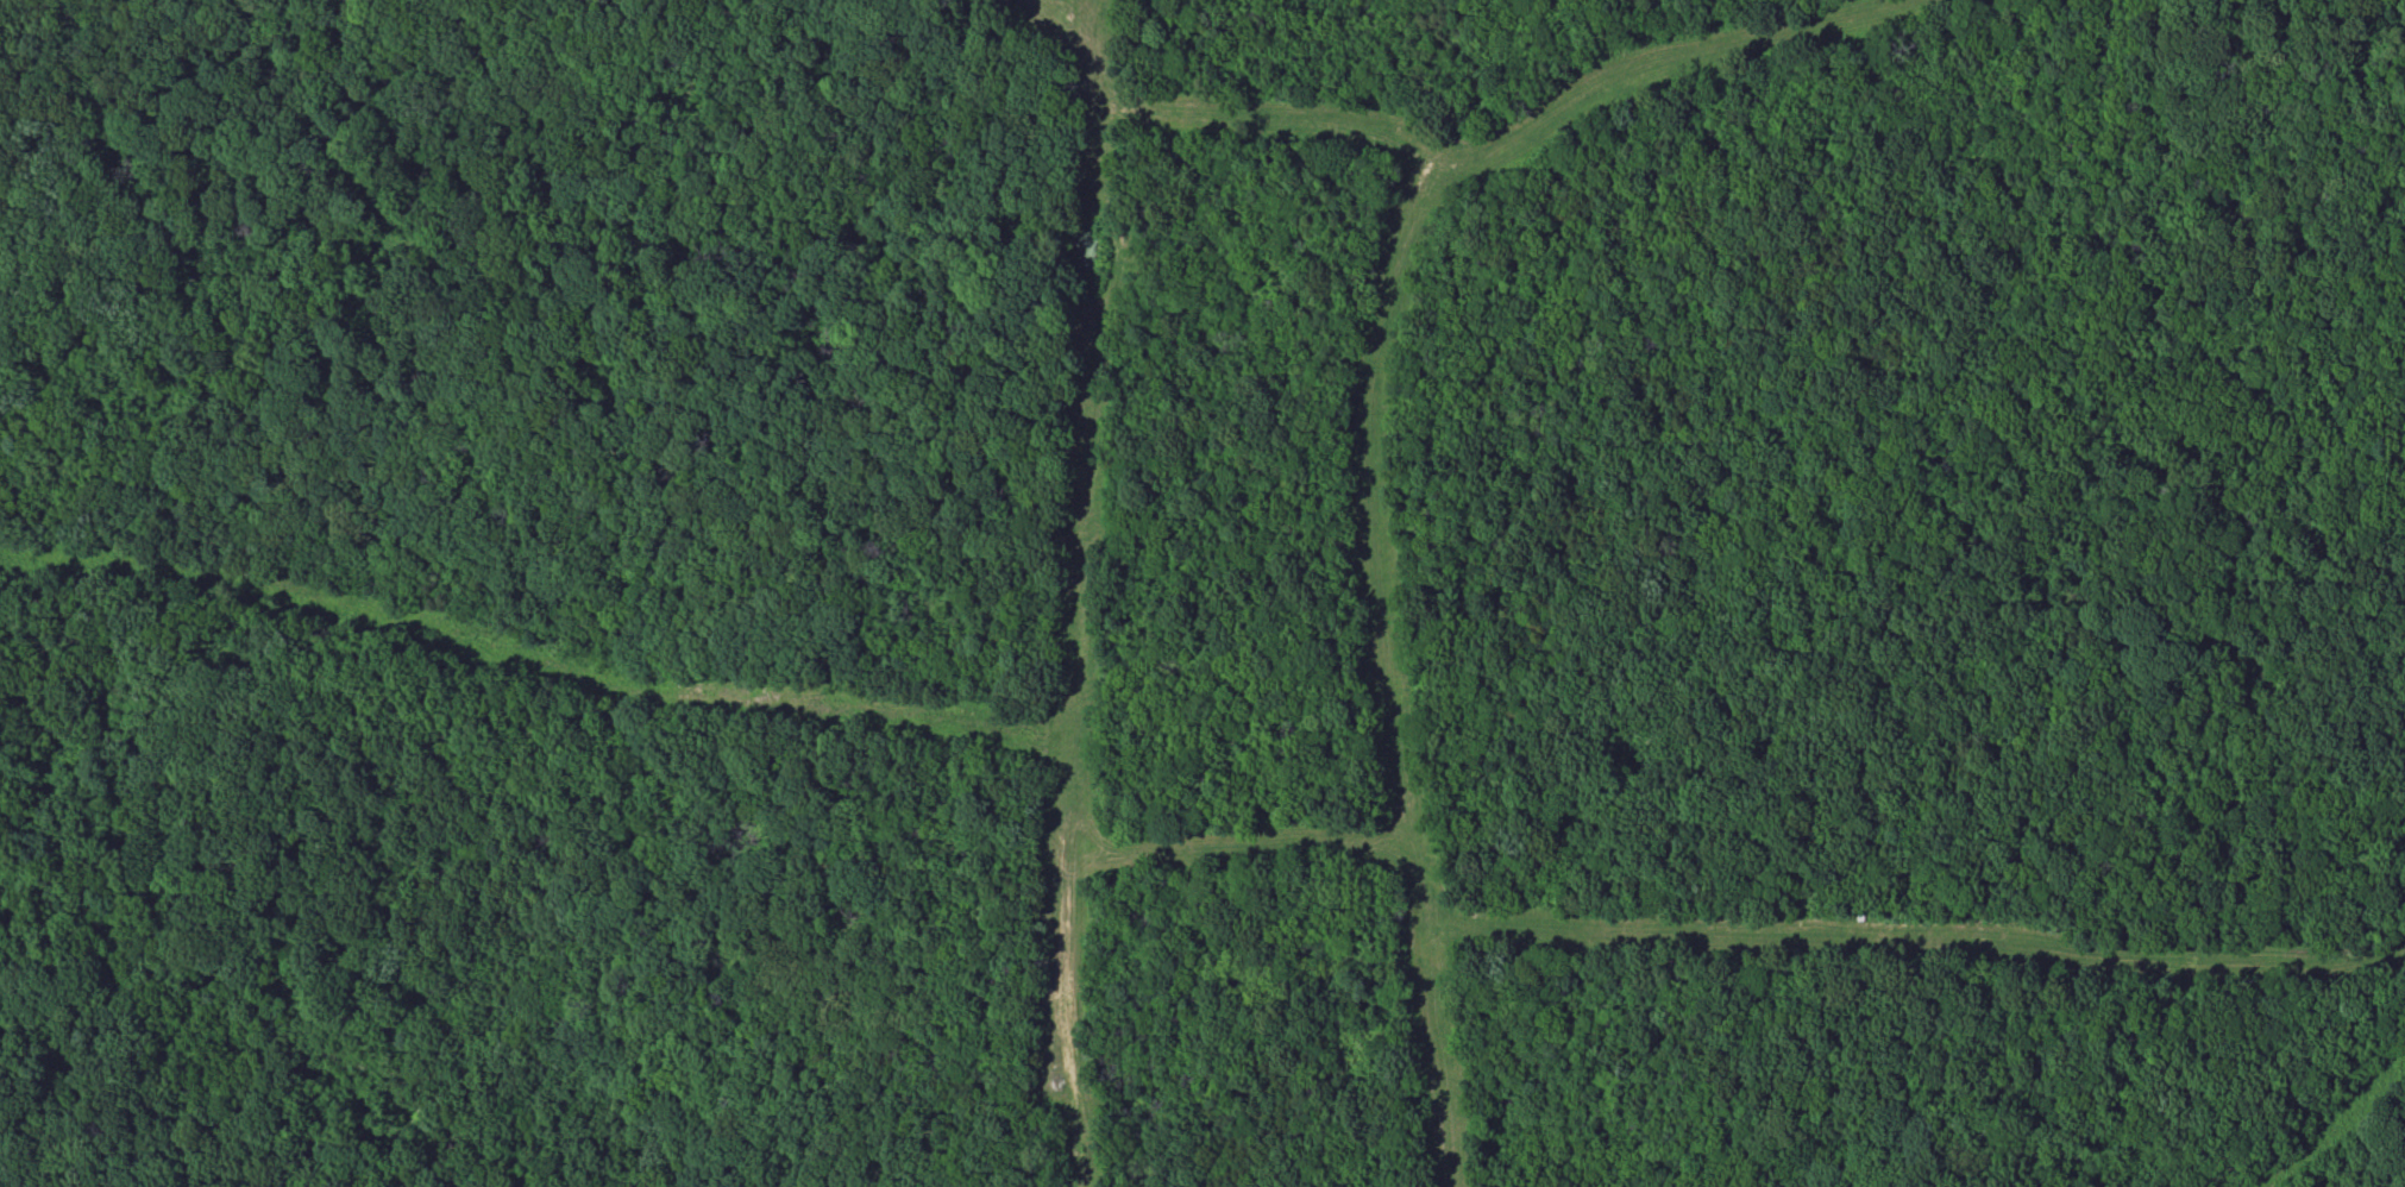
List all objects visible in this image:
road: (1069, 592)

